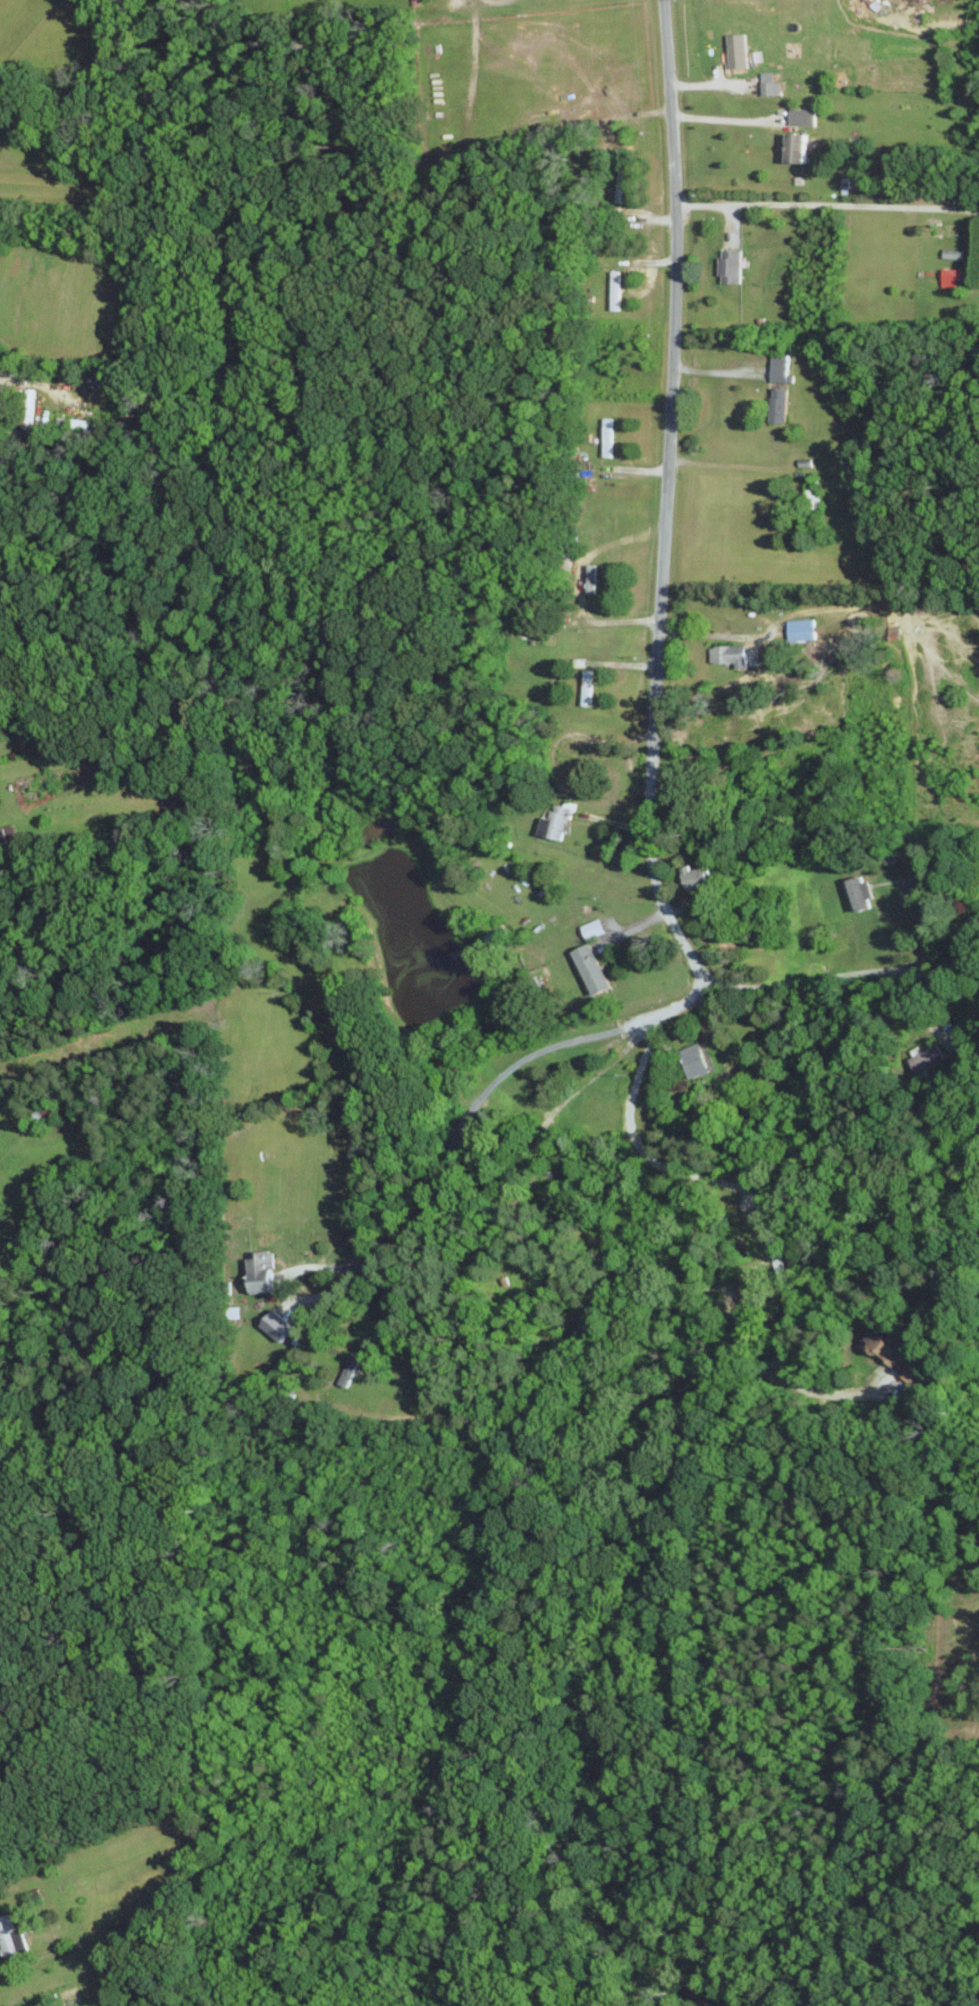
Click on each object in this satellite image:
building: (740, 51)
building: (771, 84)
building: (804, 117)
road: (722, 118)
building: (802, 148)
road: (826, 204)
building: (733, 266)
building: (955, 278)
building: (616, 290)
building: (781, 368)
road: (664, 496)
building: (804, 629)
road: (705, 634)
building: (731, 654)
building: (556, 821)
building: (697, 873)
building: (862, 892)
road: (918, 924)
building: (594, 927)
building: (594, 968)
road: (850, 976)
road: (680, 1004)
building: (695, 1060)
road: (472, 1106)
road: (554, 1115)
road: (741, 1188)
building: (265, 1275)
building: (280, 1326)
building: (888, 1348)
building: (905, 1373)
building: (12, 1936)
building: (36, 2004)

